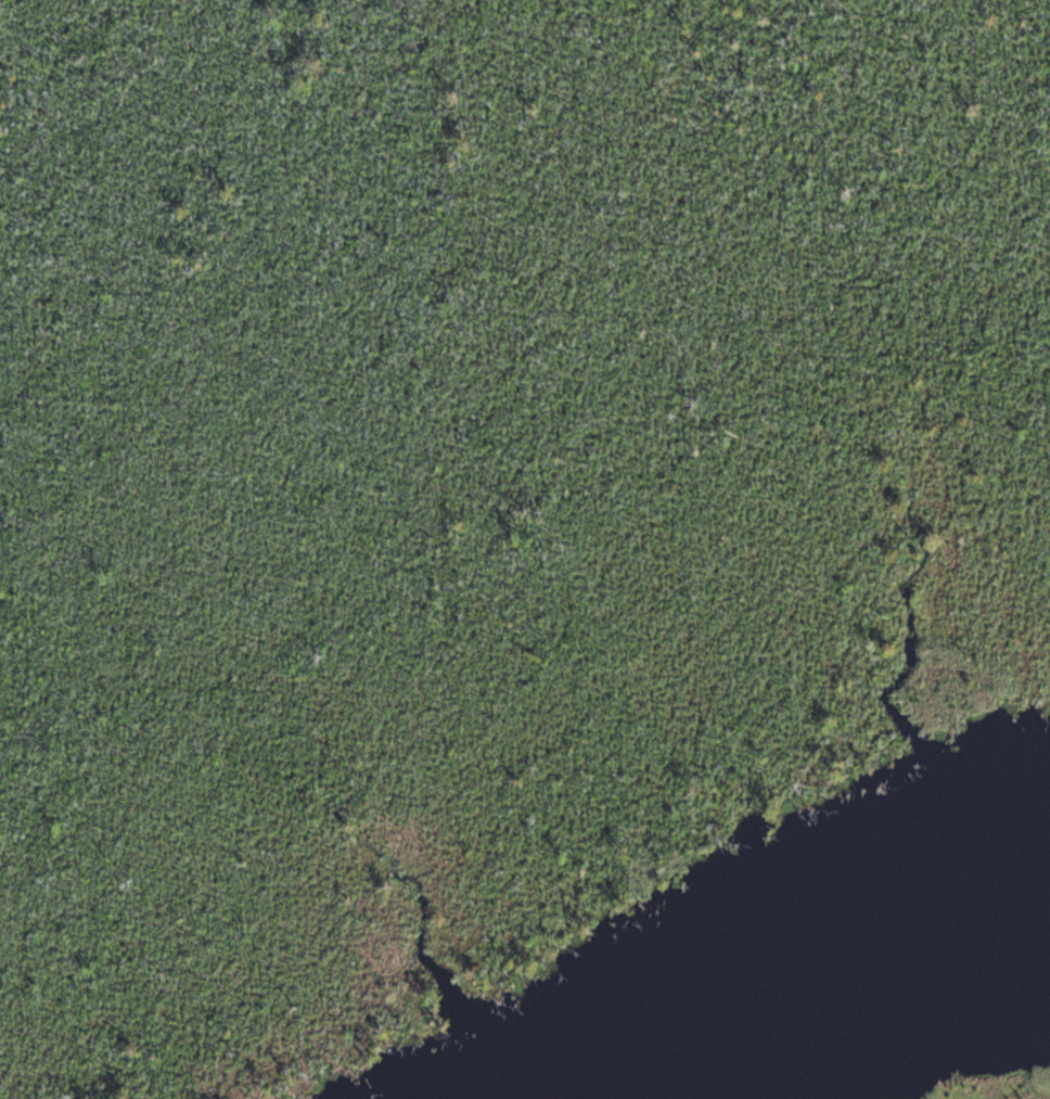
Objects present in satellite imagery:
river: (848, 975)

